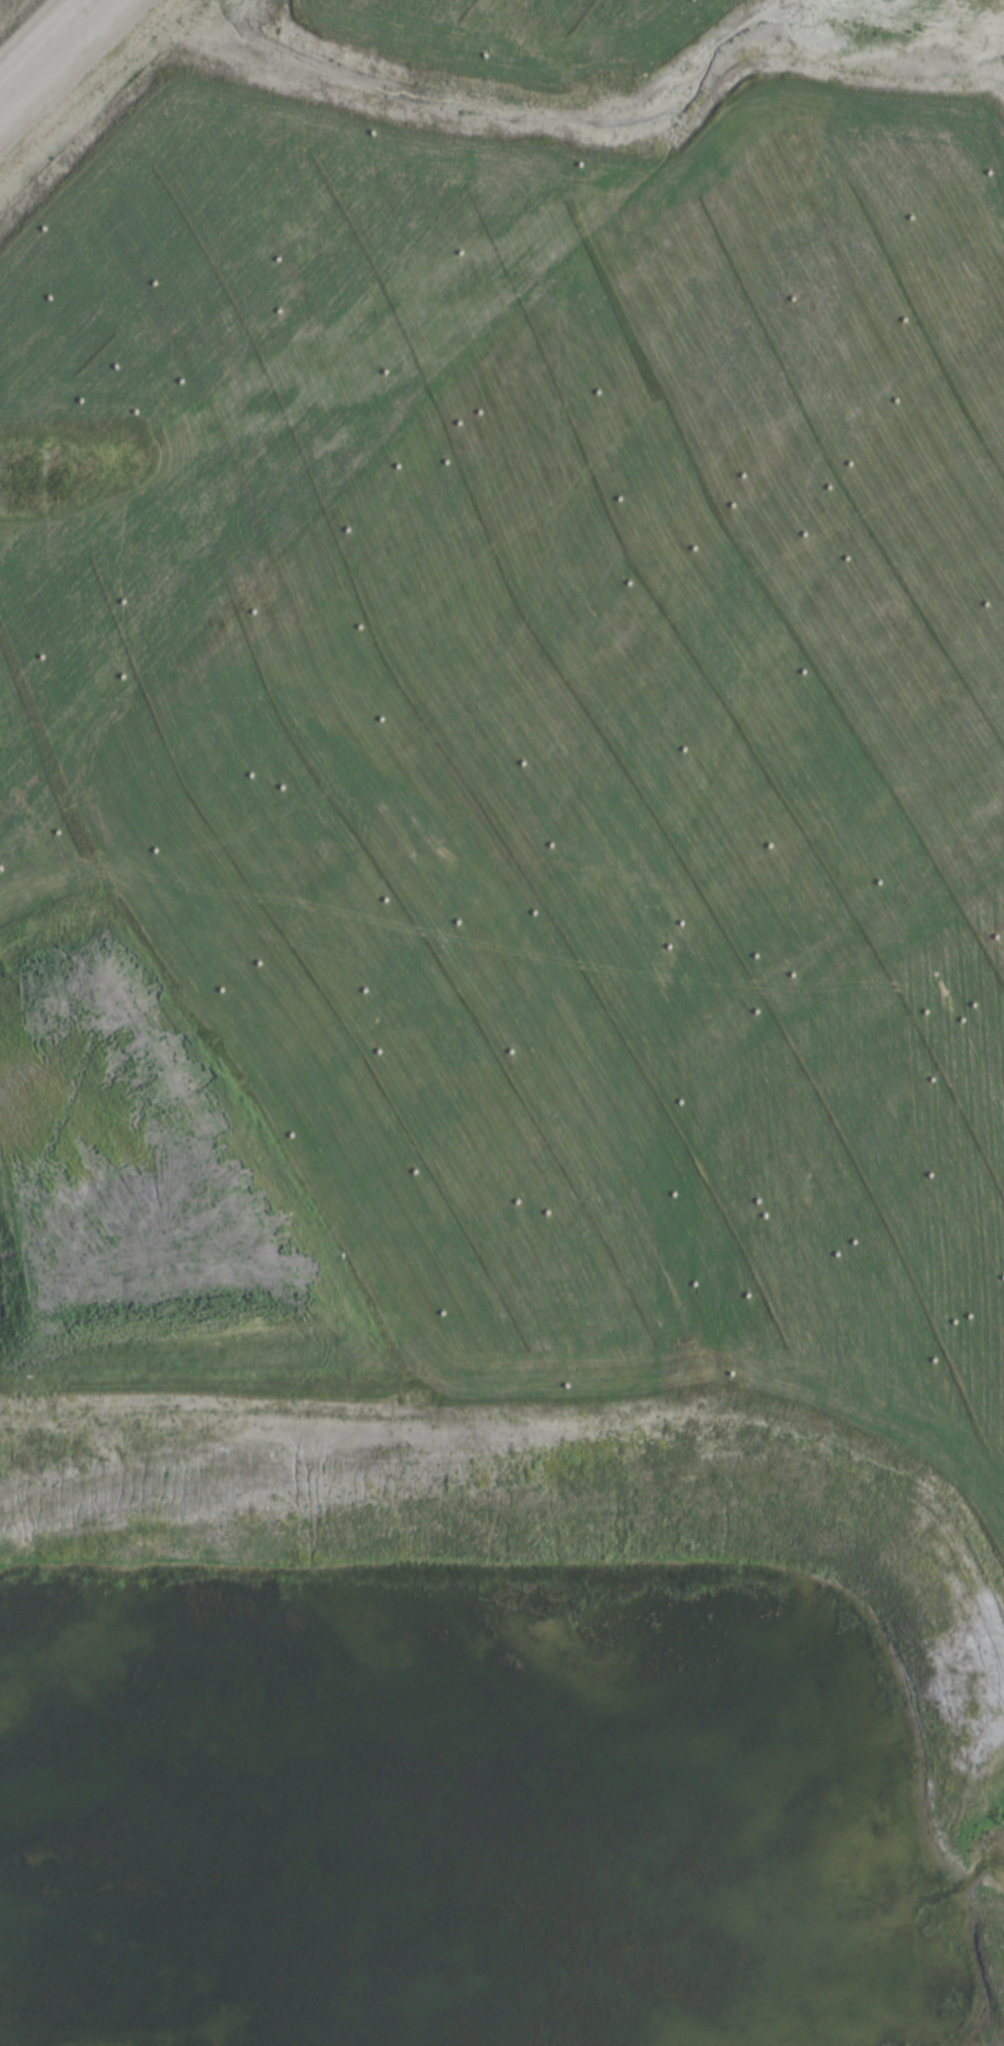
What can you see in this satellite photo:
quarry: (957, 1916)

